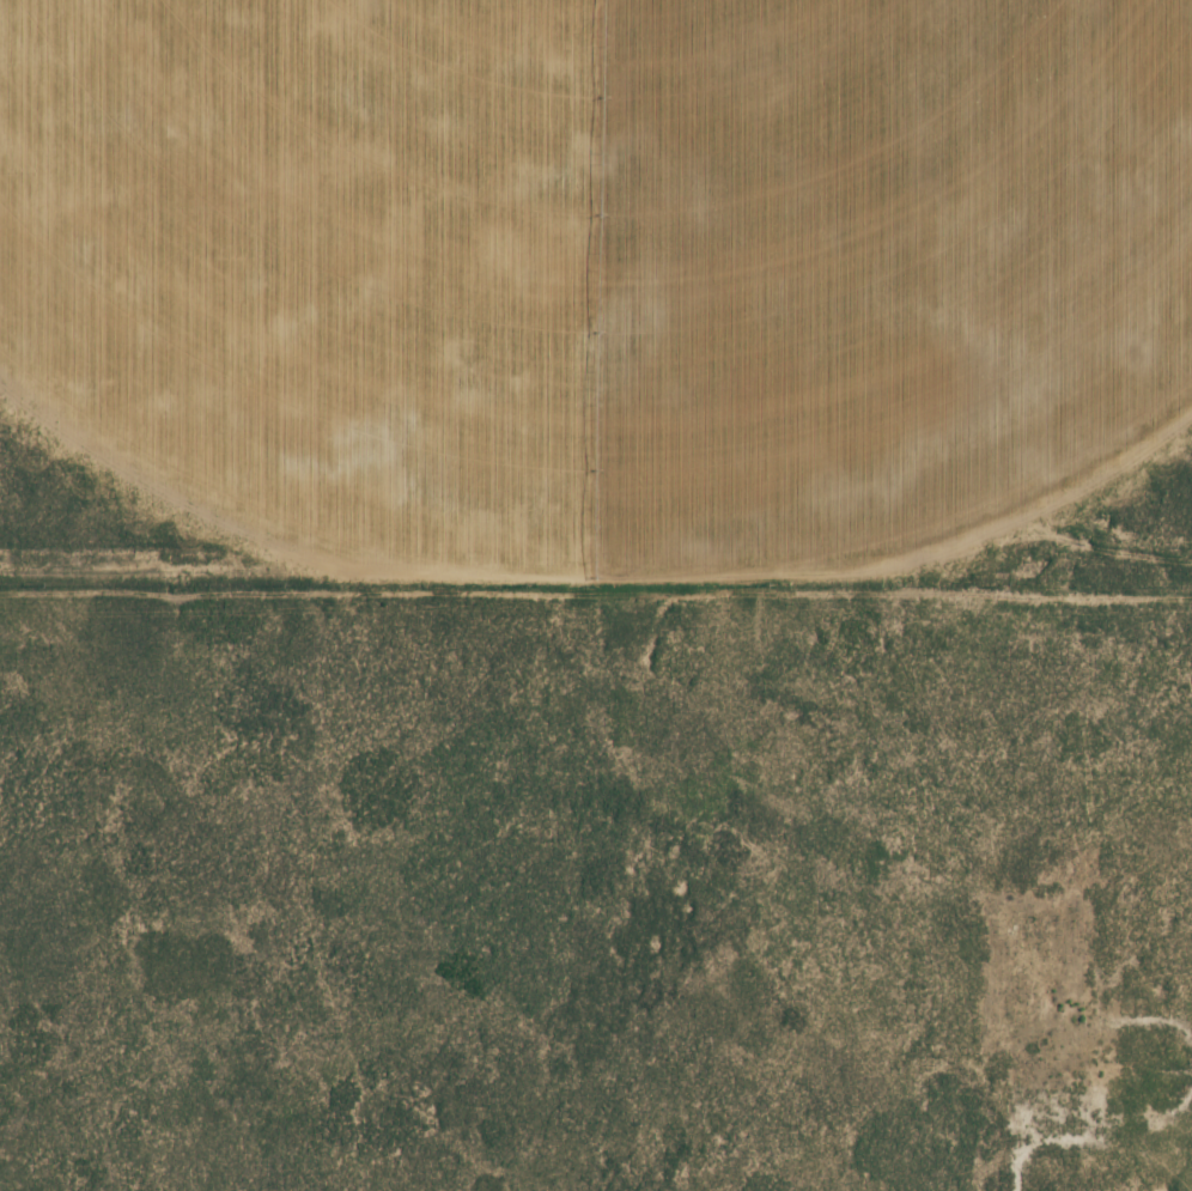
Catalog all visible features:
road: (1006, 1159)

